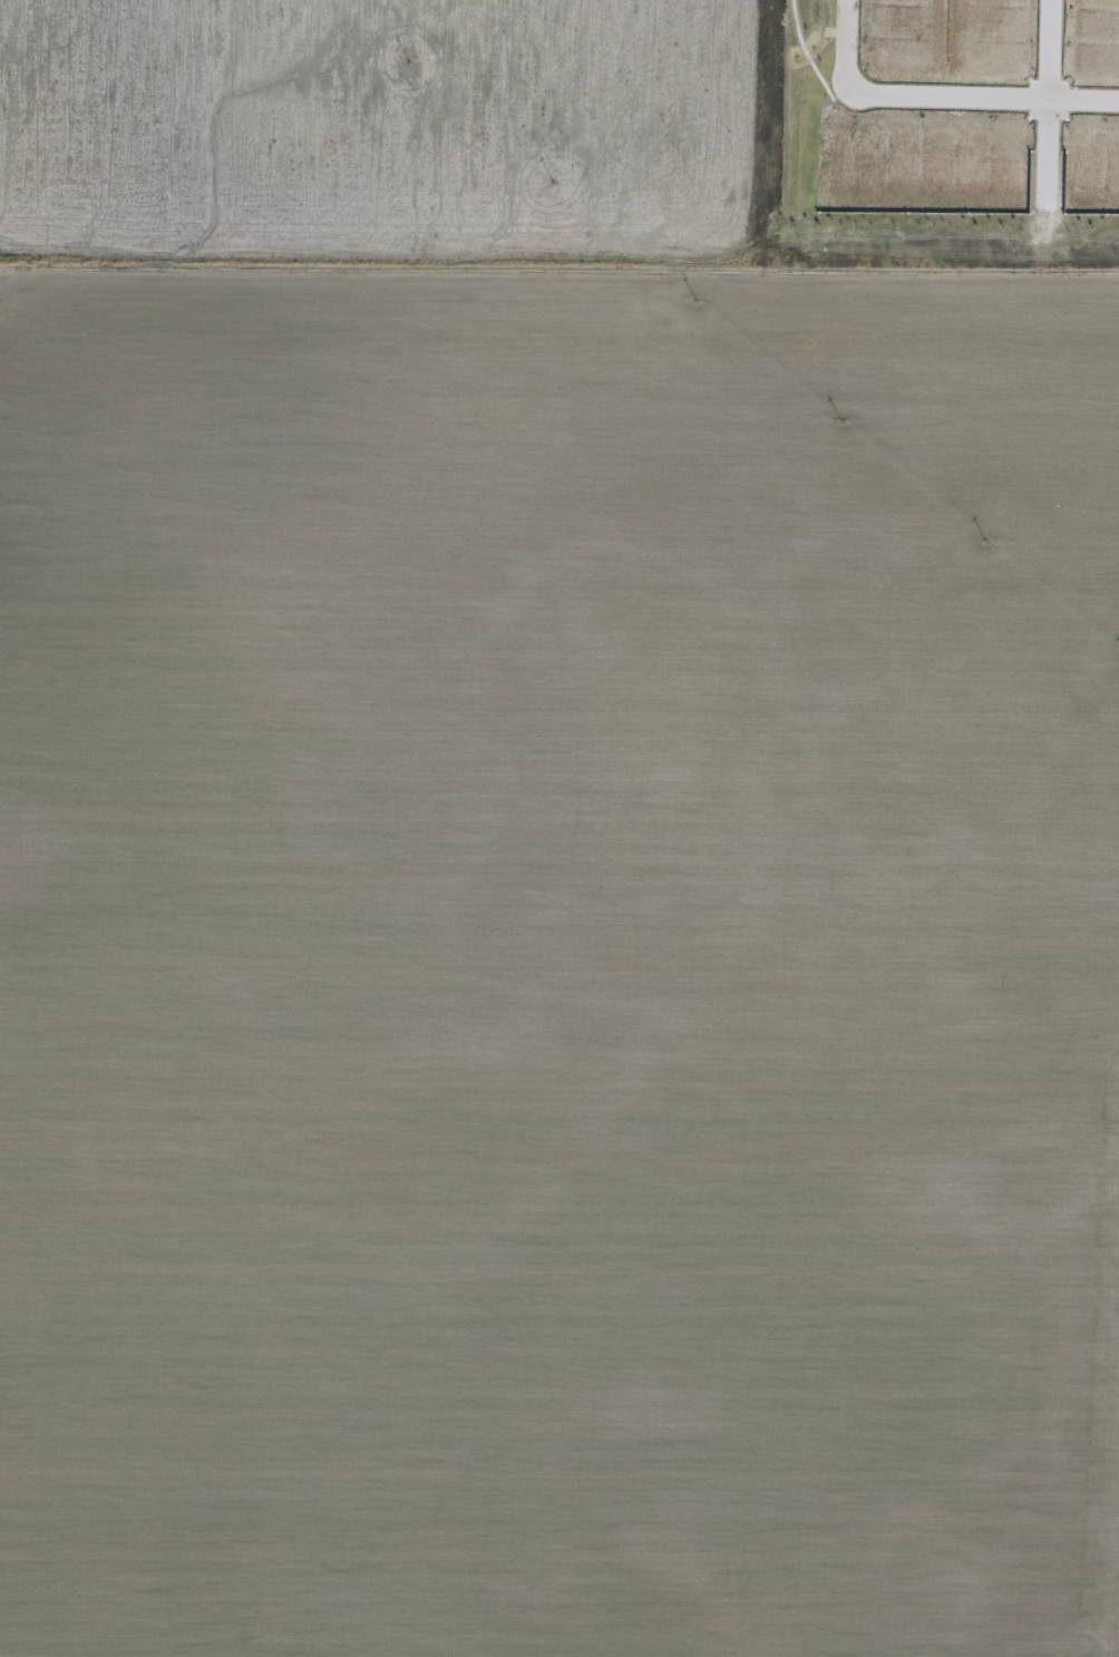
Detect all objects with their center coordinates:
road: (847, 47)
road: (986, 98)
road: (1048, 105)

